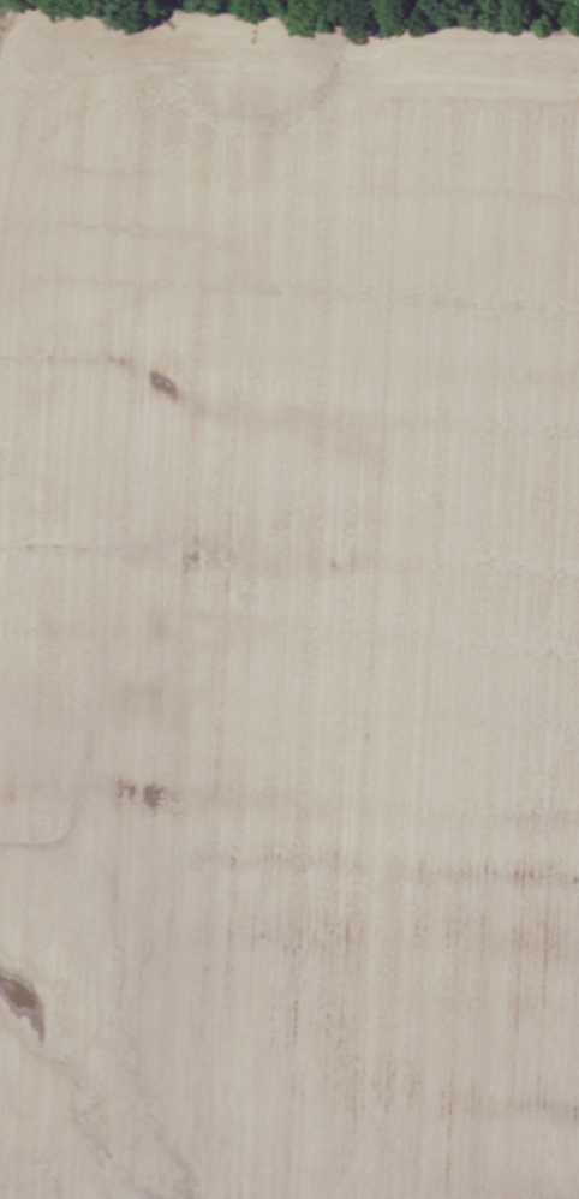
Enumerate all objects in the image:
crop: (288, 608)

